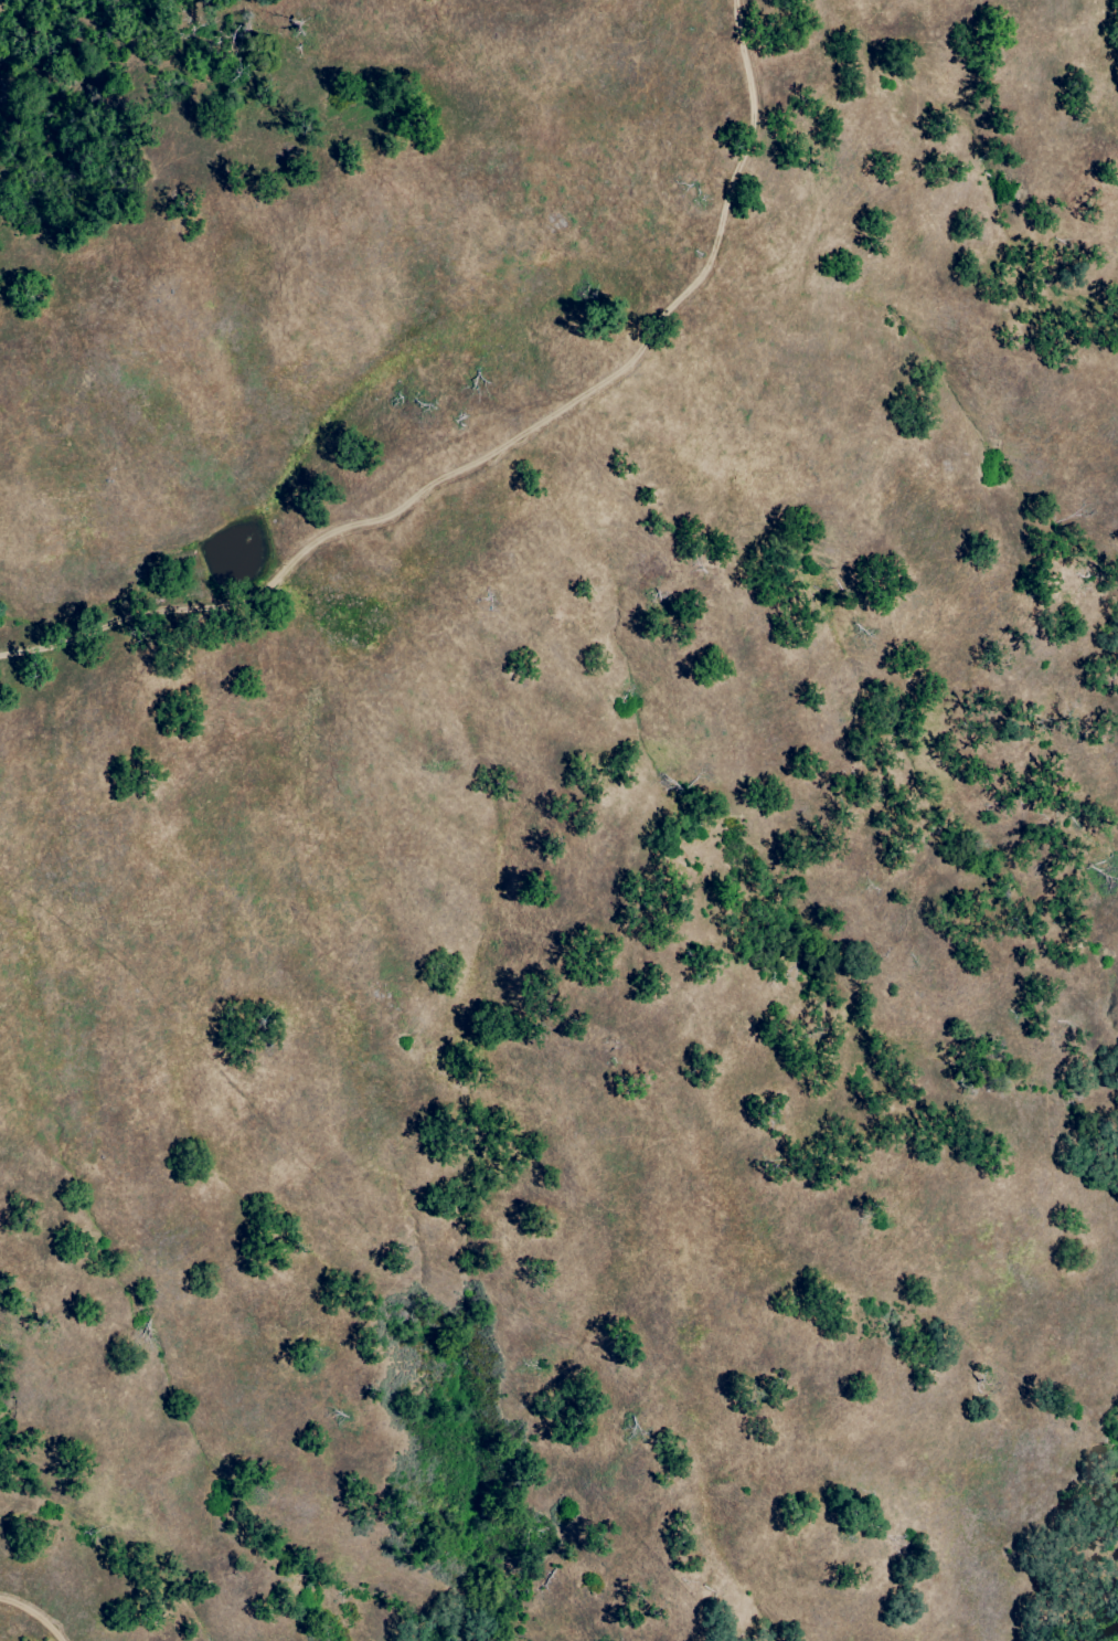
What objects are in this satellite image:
road: (503, 446)
road: (32, 1619)

